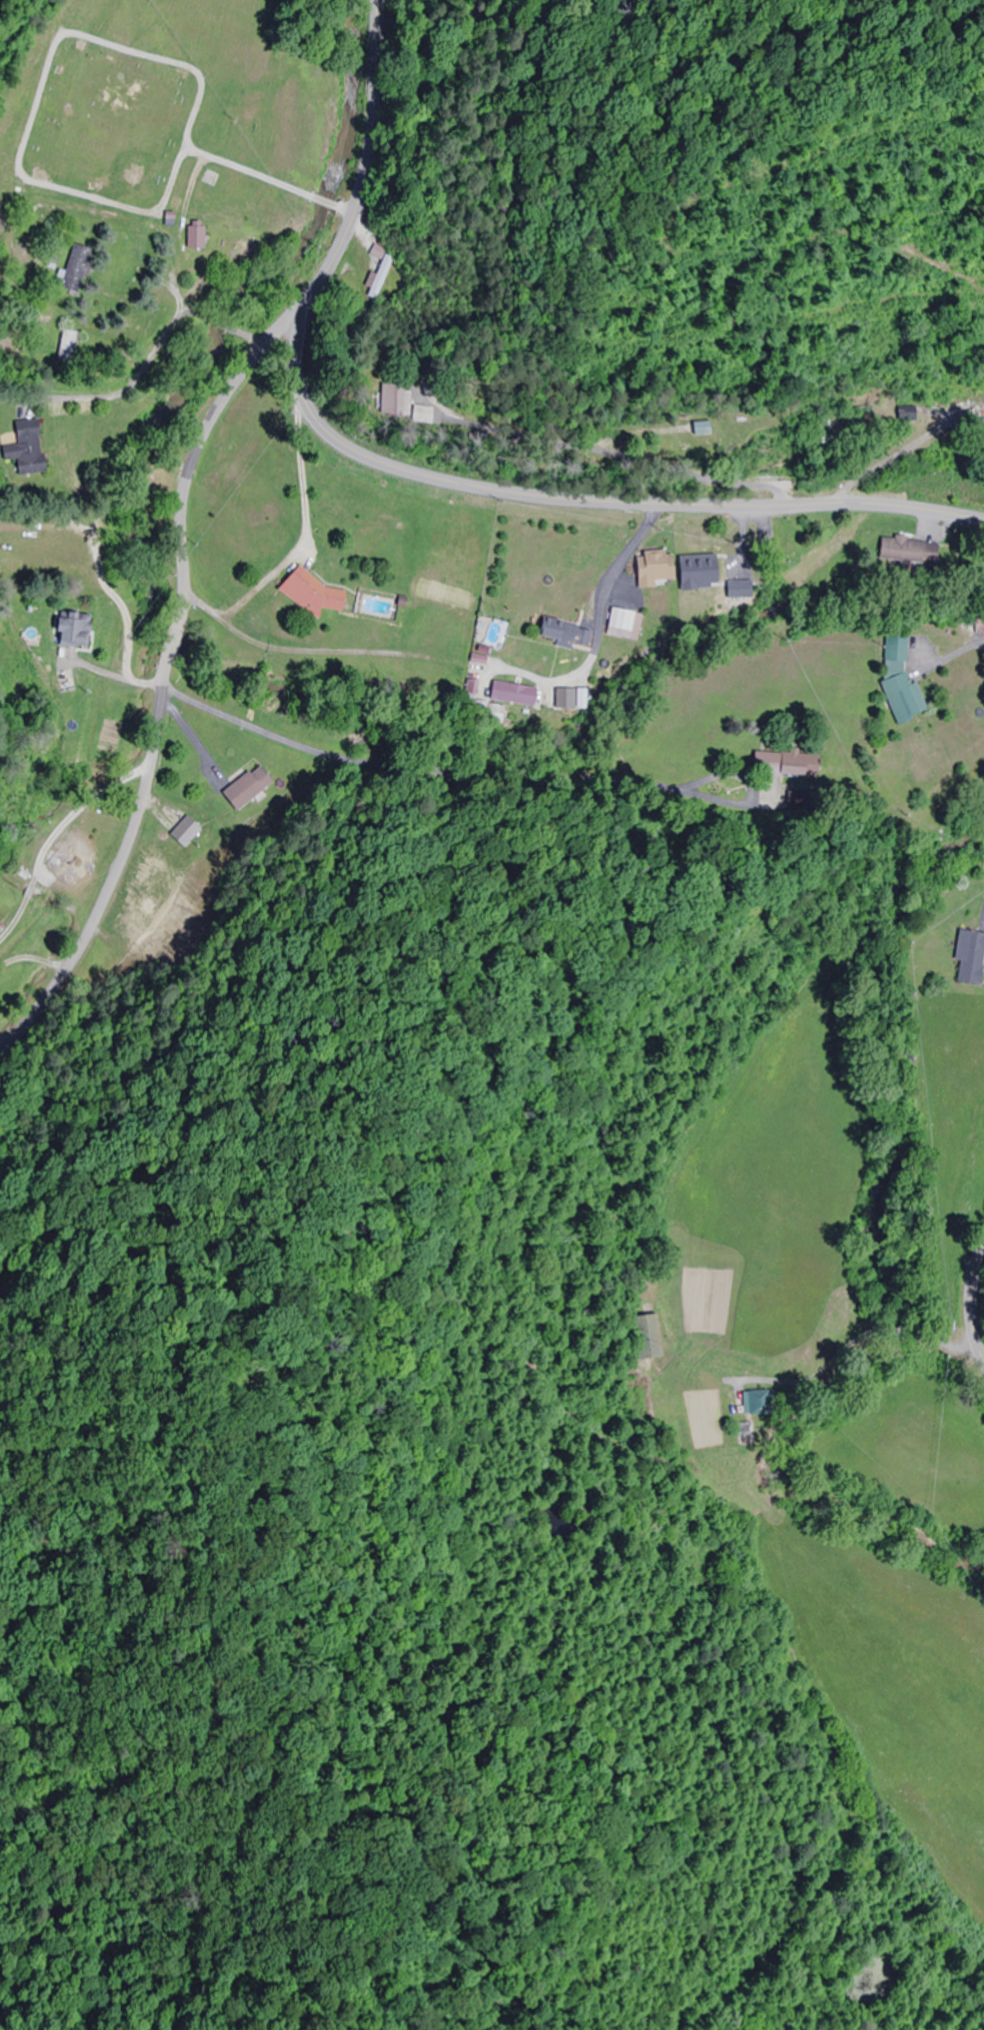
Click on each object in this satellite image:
road: (403, 14)
park: (106, 121)
road: (266, 188)
building: (192, 236)
building: (74, 268)
building: (382, 281)
building: (65, 346)
building: (381, 401)
building: (900, 413)
building: (860, 415)
building: (24, 449)
road: (425, 477)
building: (779, 545)
building: (911, 551)
building: (651, 569)
building: (697, 576)
road: (595, 622)
building: (622, 623)
building: (973, 624)
building: (70, 629)
building: (562, 632)
road: (165, 660)
road: (954, 661)
building: (899, 680)
building: (511, 693)
building: (495, 714)
road: (77, 740)
building: (790, 764)
road: (458, 787)
building: (246, 788)
building: (184, 832)
building: (66, 860)
building: (141, 914)
building: (122, 949)
building: (969, 957)
road: (971, 1303)
building: (645, 1336)
road: (926, 1339)
road: (808, 1382)
building: (757, 1402)

